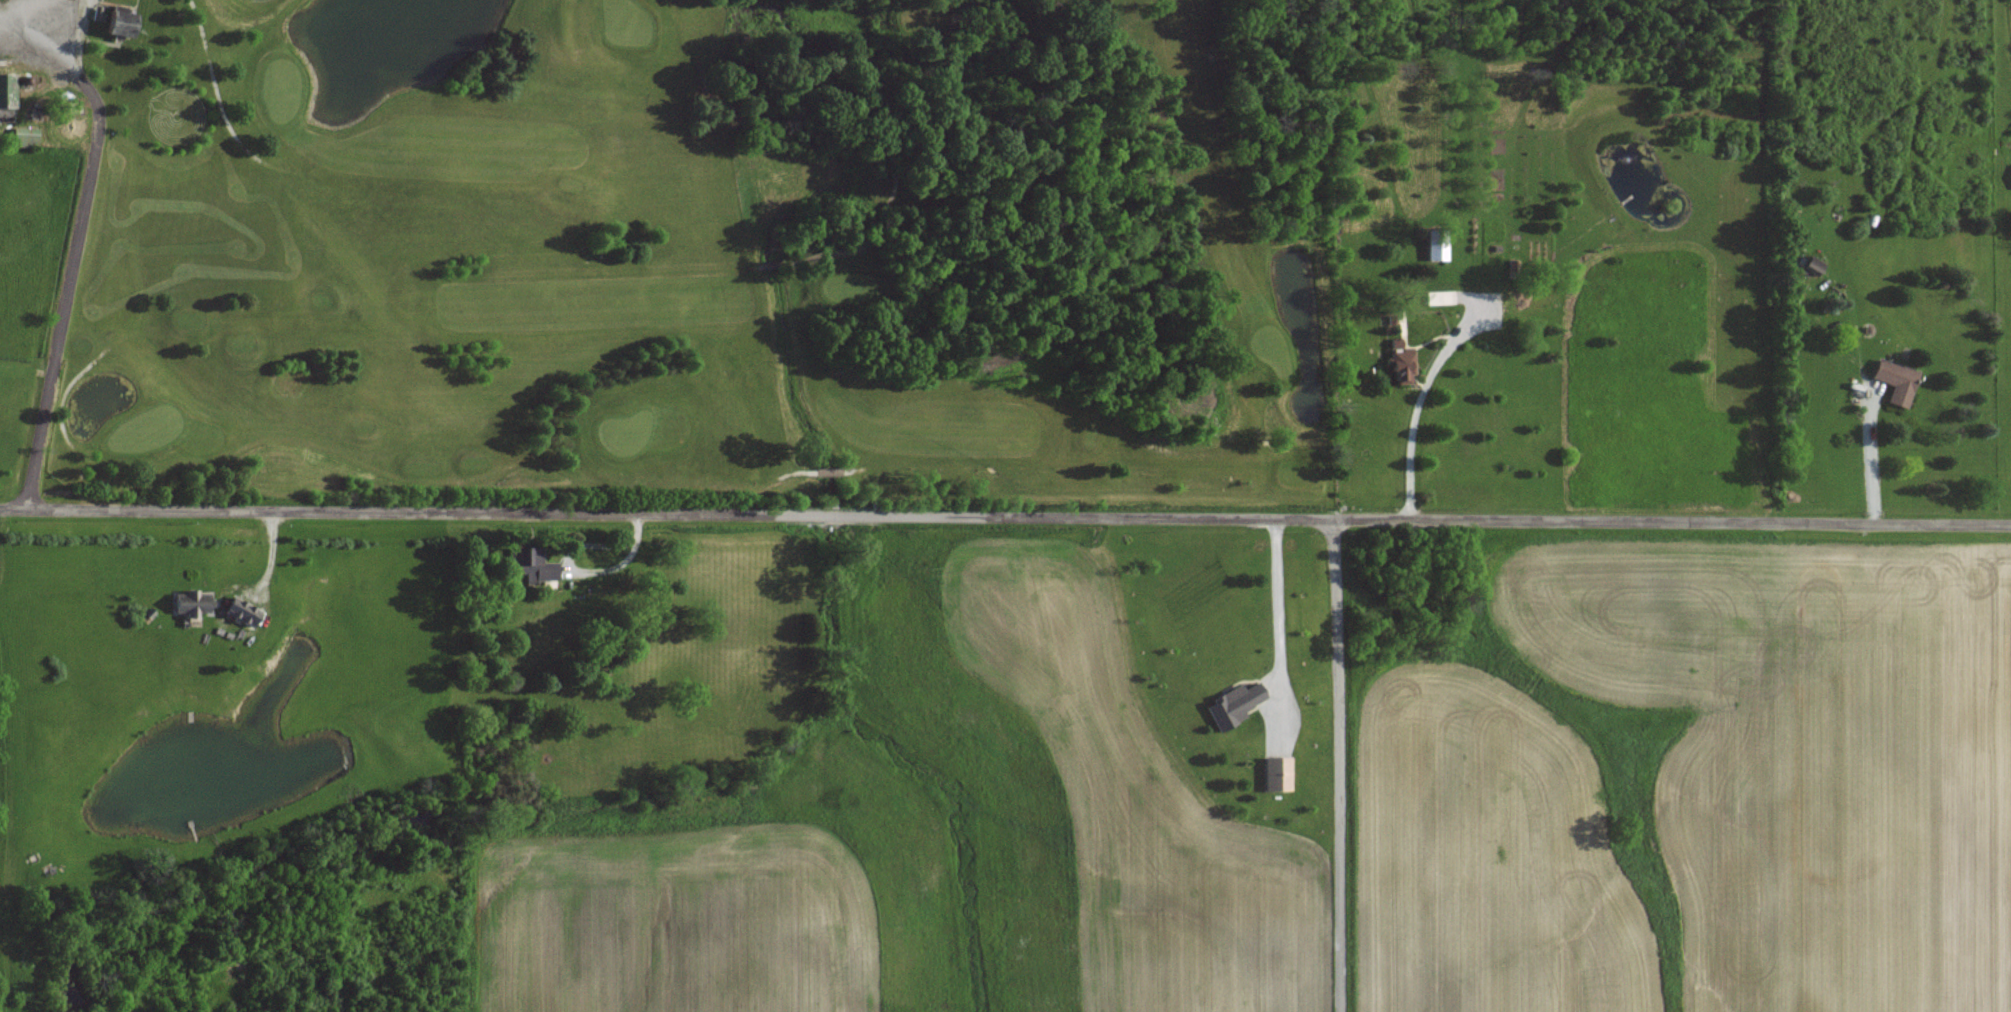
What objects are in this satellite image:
building: (123, 21)
building: (7, 96)
building: (26, 136)
building: (1437, 246)
road: (74, 250)
building: (1403, 366)
building: (1898, 380)
road: (1412, 418)
road: (1879, 455)
road: (1005, 513)
building: (194, 602)
road: (1275, 604)
building: (246, 617)
building: (1236, 704)
road: (1338, 762)

